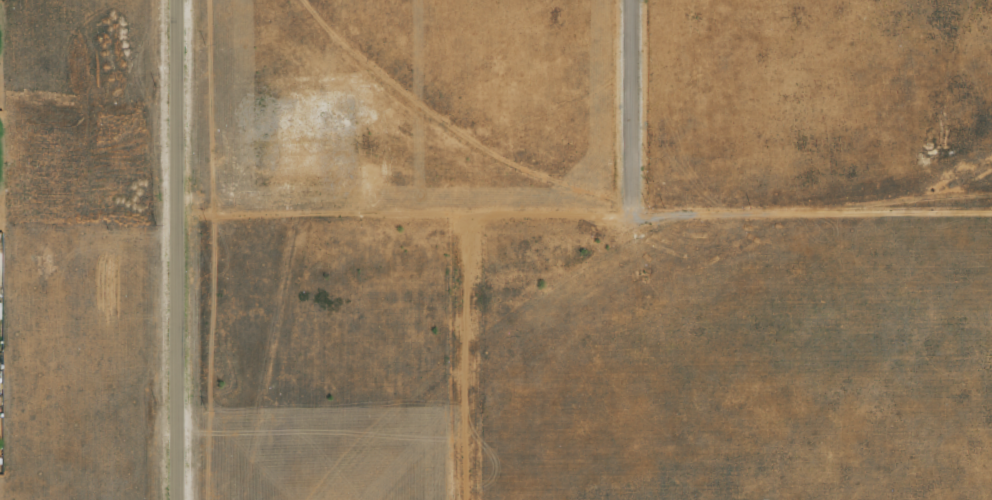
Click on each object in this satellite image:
road: (626, 106)
road: (583, 214)
road: (176, 249)
building: (0, 309)
road: (459, 358)

